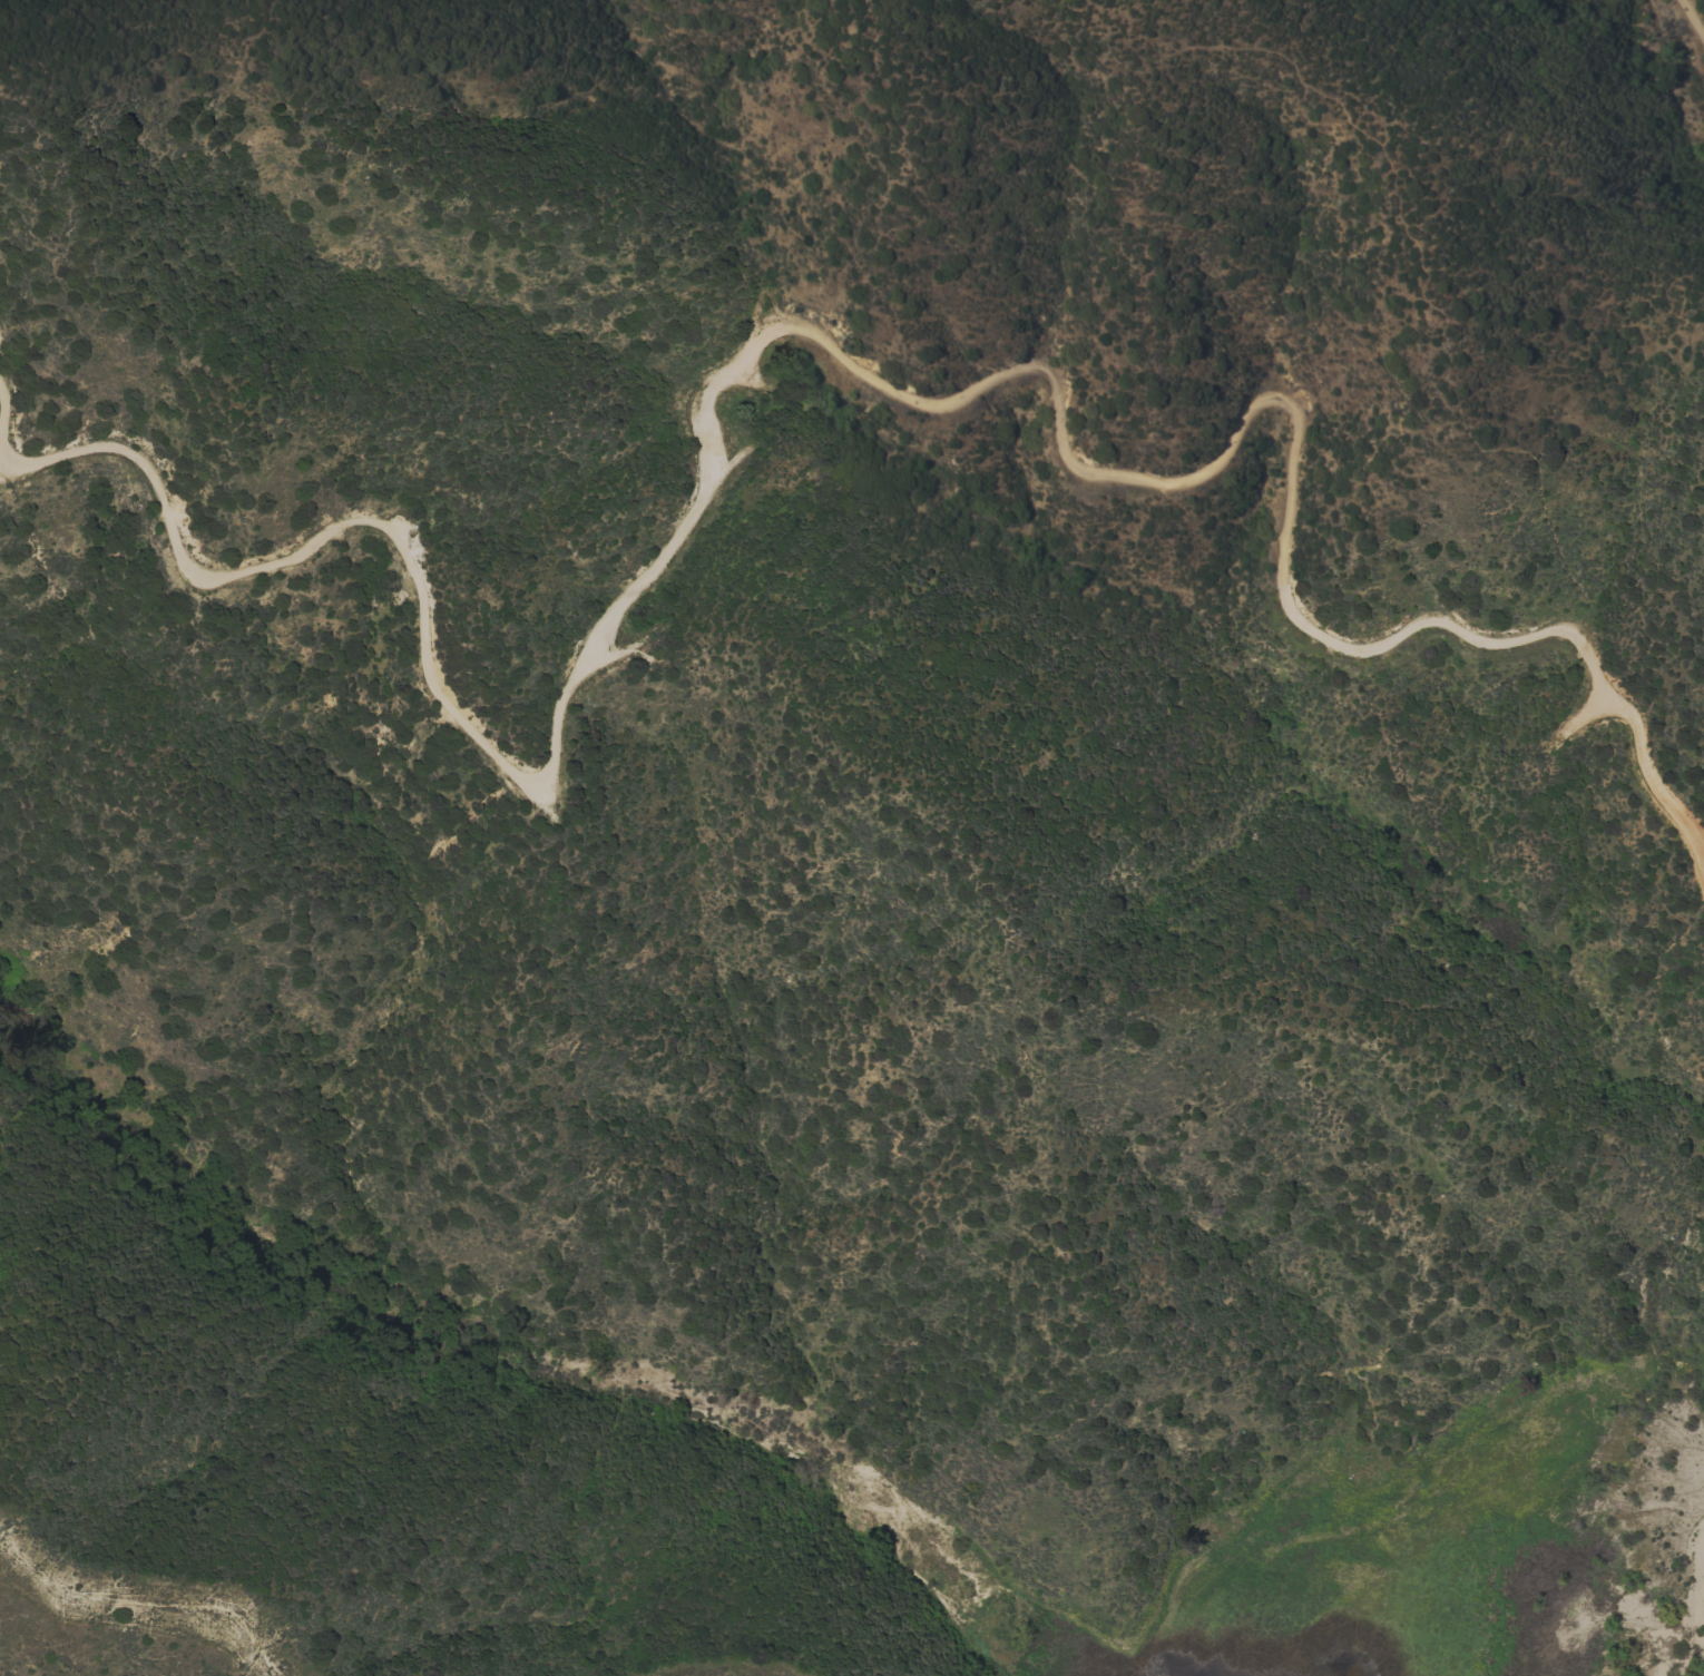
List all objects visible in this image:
road: (1694, 14)
road: (1402, 220)
road: (819, 332)
road: (6, 406)
road: (249, 435)
road: (427, 518)

